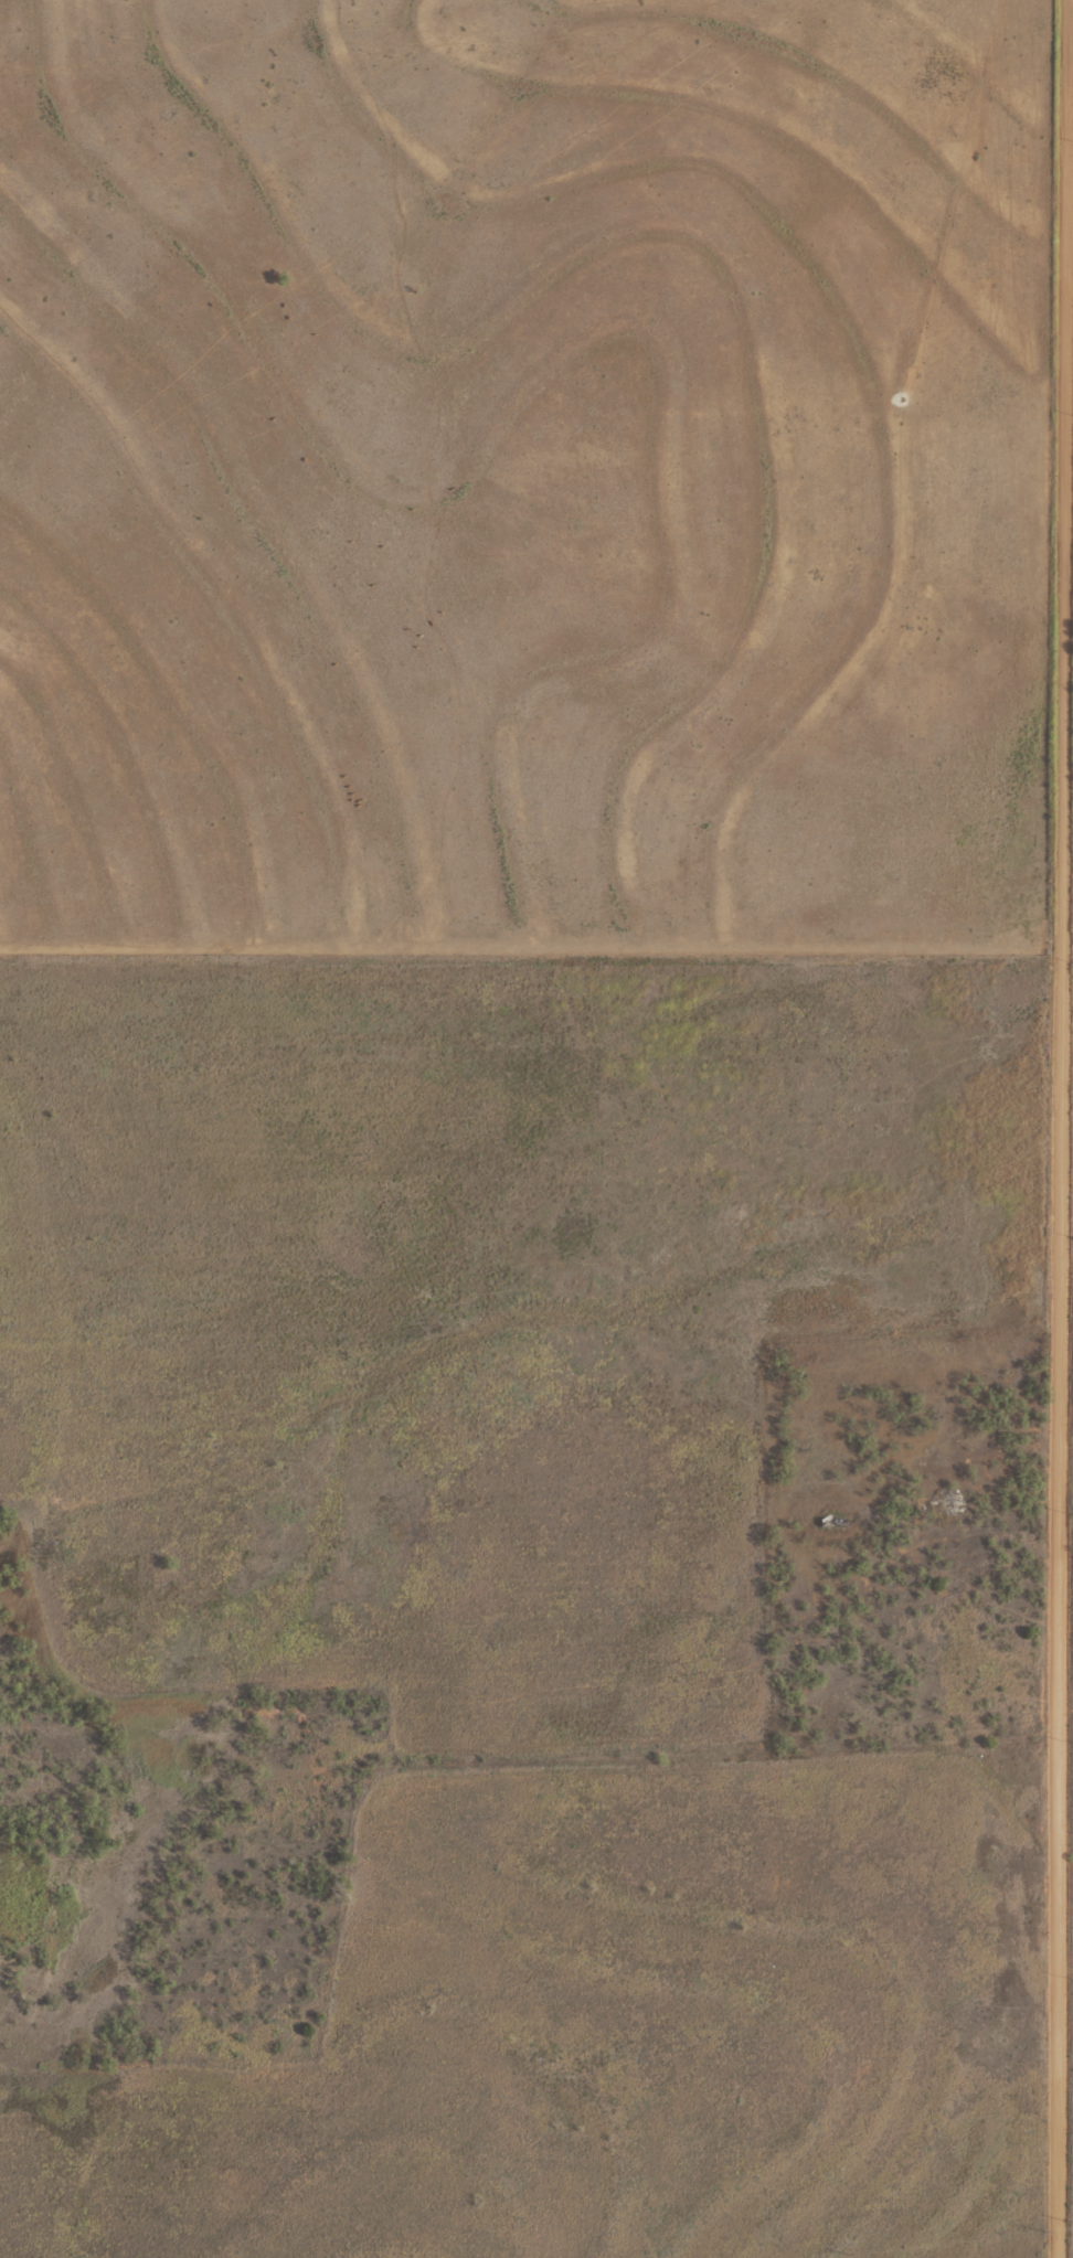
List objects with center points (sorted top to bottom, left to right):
road: (1064, 1128)

